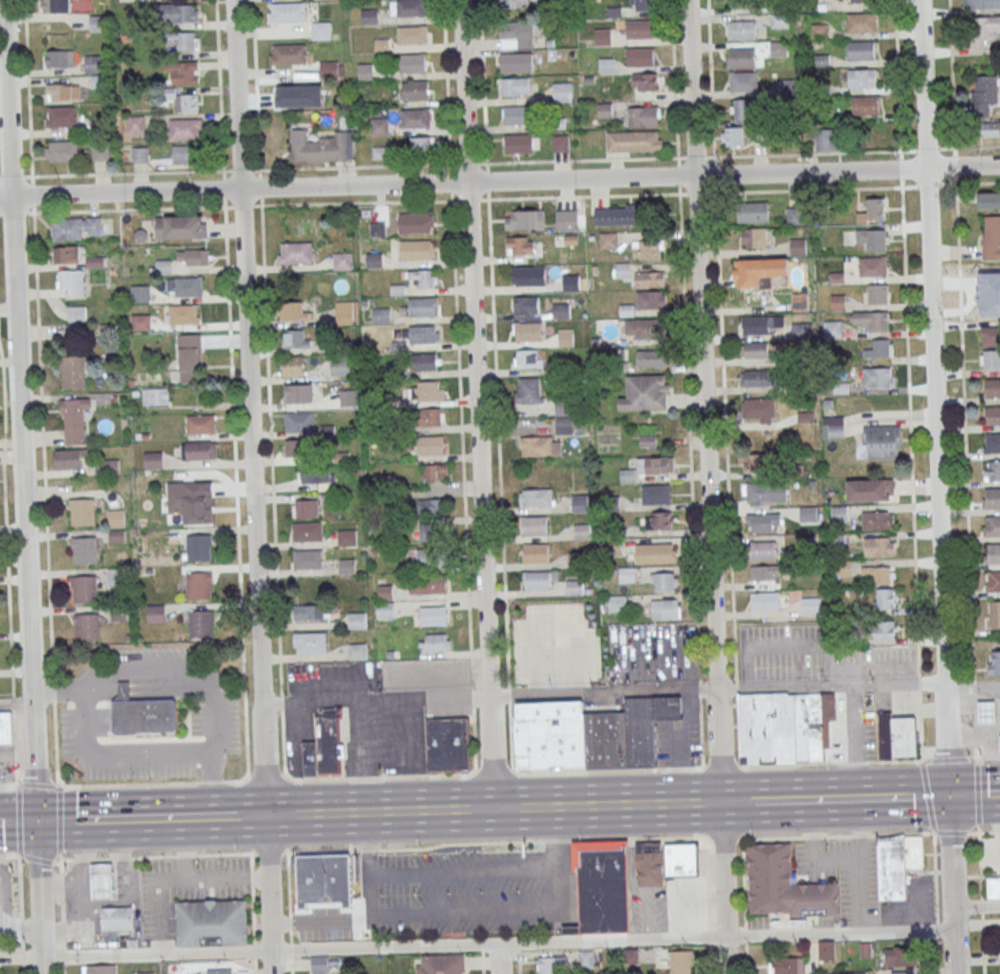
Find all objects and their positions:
building: (863, 1)
building: (513, 3)
building: (740, 3)
building: (977, 4)
building: (642, 5)
building: (55, 6)
building: (410, 8)
building: (179, 12)
building: (286, 12)
building: (861, 23)
building: (320, 30)
building: (640, 30)
building: (741, 30)
building: (984, 30)
building: (517, 34)
building: (412, 36)
building: (602, 36)
building: (183, 40)
building: (778, 48)
building: (861, 51)
building: (287, 54)
building: (641, 57)
building: (60, 58)
building: (742, 58)
building: (95, 63)
building: (517, 63)
building: (413, 64)
building: (607, 65)
building: (329, 68)
building: (183, 73)
building: (862, 79)
road: (674, 80)
building: (645, 81)
building: (743, 82)
road: (482, 84)
road: (218, 85)
building: (516, 87)
building: (791, 87)
building: (63, 91)
building: (415, 91)
building: (562, 91)
building: (279, 93)
building: (983, 94)
building: (186, 102)
building: (866, 105)
building: (746, 108)
building: (518, 115)
building: (61, 116)
building: (643, 117)
building: (416, 119)
building: (135, 124)
building: (379, 125)
building: (185, 128)
building: (990, 128)
building: (736, 135)
building: (825, 139)
building: (634, 142)
building: (560, 143)
building: (423, 145)
building: (519, 145)
building: (320, 147)
building: (61, 150)
building: (100, 151)
road: (852, 151)
building: (184, 153)
building: (139, 154)
road: (694, 156)
road: (713, 158)
road: (581, 159)
road: (467, 162)
road: (353, 166)
road: (449, 166)
road: (963, 167)
road: (239, 169)
road: (225, 170)
road: (259, 172)
road: (713, 172)
road: (222, 173)
road: (677, 174)
road: (31, 175)
road: (12, 176)
road: (486, 180)
road: (450, 181)
road: (463, 183)
road: (259, 187)
road: (850, 187)
road: (223, 188)
road: (31, 193)
road: (693, 193)
road: (583, 196)
road: (469, 199)
building: (989, 200)
road: (355, 202)
road: (242, 205)
road: (223, 206)
road: (13, 211)
road: (30, 211)
building: (753, 211)
building: (872, 211)
building: (618, 215)
building: (794, 215)
building: (524, 219)
building: (566, 220)
building: (416, 223)
building: (76, 227)
building: (180, 227)
building: (377, 229)
building: (754, 237)
building: (991, 237)
building: (872, 239)
building: (608, 240)
building: (520, 245)
building: (798, 246)
building: (646, 249)
building: (417, 250)
building: (294, 253)
building: (66, 254)
building: (193, 256)
building: (342, 260)
building: (373, 260)
building: (872, 266)
building: (750, 273)
building: (529, 276)
building: (424, 277)
building: (649, 279)
building: (71, 281)
building: (570, 282)
building: (184, 286)
building: (877, 293)
building: (140, 294)
building: (650, 299)
building: (799, 301)
building: (837, 302)
building: (527, 306)
building: (422, 307)
building: (293, 311)
building: (345, 313)
building: (77, 314)
building: (183, 314)
building: (872, 320)
building: (140, 322)
building: (755, 326)
building: (643, 328)
building: (832, 328)
building: (800, 330)
building: (528, 332)
building: (424, 335)
building: (990, 336)
building: (565, 337)
road: (906, 337)
building: (296, 338)
road: (961, 339)
building: (758, 350)
building: (189, 357)
building: (528, 358)
building: (652, 358)
building: (990, 359)
building: (424, 362)
building: (293, 365)
building: (339, 366)
building: (73, 373)
building: (752, 377)
building: (876, 377)
building: (992, 387)
building: (427, 390)
building: (528, 390)
building: (298, 393)
building: (645, 393)
building: (155, 396)
building: (349, 397)
road: (476, 403)
building: (563, 408)
road: (19, 410)
building: (759, 410)
building: (992, 415)
building: (430, 416)
building: (75, 419)
building: (299, 421)
building: (200, 424)
building: (833, 427)
road: (724, 432)
road: (687, 433)
road: (498, 439)
road: (461, 440)
road: (42, 441)
building: (882, 442)
building: (992, 442)
building: (540, 445)
road: (270, 446)
building: (430, 446)
building: (296, 447)
building: (199, 450)
building: (69, 457)
building: (152, 459)
building: (754, 462)
building: (656, 465)
building: (110, 466)
building: (992, 470)
building: (435, 471)
building: (313, 474)
road: (252, 486)
road: (706, 486)
road: (937, 487)
building: (870, 490)
building: (767, 492)
building: (655, 494)
building: (991, 498)
building: (536, 499)
road: (236, 502)
building: (579, 502)
building: (432, 506)
building: (305, 508)
building: (196, 510)
building: (83, 512)
building: (808, 513)
building: (839, 513)
building: (658, 520)
building: (878, 520)
building: (763, 522)
building: (534, 526)
building: (992, 526)
building: (307, 531)
building: (427, 531)
building: (347, 538)
building: (879, 546)
building: (200, 547)
building: (85, 550)
building: (763, 551)
building: (655, 552)
building: (992, 553)
building: (535, 554)
building: (432, 558)
building: (307, 559)
road: (6, 567)
building: (347, 567)
building: (765, 572)
building: (626, 574)
building: (879, 574)
building: (664, 581)
building: (537, 582)
building: (993, 582)
building: (427, 584)
building: (199, 586)
building: (574, 587)
building: (85, 590)
building: (385, 592)
building: (885, 597)
building: (766, 602)
building: (617, 603)
building: (811, 606)
building: (666, 608)
building: (385, 609)
building: (309, 611)
building: (156, 613)
building: (994, 614)
building: (433, 615)
road: (554, 618)
building: (357, 621)
building: (202, 624)
building: (88, 628)
building: (884, 629)
building: (311, 642)
building: (435, 642)
road: (786, 646)
building: (357, 651)
building: (994, 662)
road: (827, 664)
road: (746, 666)
road: (867, 666)
road: (180, 669)
parking lot: (423, 670)
parking lot: (330, 672)
road: (906, 673)
road: (347, 681)
road: (918, 681)
road: (973, 685)
road: (698, 687)
road: (735, 687)
road: (52, 689)
road: (630, 690)
road: (58, 691)
road: (508, 694)
road: (471, 695)
road: (281, 701)
road: (403, 711)
building: (986, 711)
building: (140, 713)
parking lot: (351, 722)
parking lot: (303, 724)
road: (919, 724)
road: (975, 726)
building: (6, 727)
building: (784, 728)
road: (510, 734)
building: (590, 734)
parking lot: (393, 738)
building: (903, 738)
road: (55, 743)
building: (448, 743)
building: (325, 745)
road: (121, 752)
road: (983, 756)
road: (946, 758)
road: (900, 760)
road: (854, 762)
road: (474, 765)
road: (749, 765)
parking lot: (353, 766)
road: (723, 766)
road: (641, 768)
road: (513, 770)
road: (471, 771)
road: (492, 772)
road: (286, 773)
road: (286, 774)
road: (407, 775)
road: (245, 776)
road: (386, 776)
road: (266, 777)
road: (363, 777)
road: (17, 781)
road: (211, 782)
road: (212, 783)
road: (8, 784)
road: (37, 784)
road: (127, 784)
road: (975, 793)
traffic signals: (949, 795)
road: (974, 795)
road: (927, 796)
road: (844, 798)
road: (729, 802)
road: (492, 807)
road: (255, 815)
road: (181, 818)
road: (17, 820)
road: (58, 820)
road: (77, 820)
road: (18, 821)
traffic signals: (37, 821)
road: (984, 831)
road: (950, 832)
road: (899, 833)
road: (836, 835)
road: (859, 835)
road: (812, 836)
road: (813, 837)
road: (771, 838)
road: (722, 840)
road: (537, 841)
road: (705, 842)
parking lot: (839, 849)
road: (185, 850)
road: (268, 852)
road: (223, 853)
road: (185, 854)
road: (9, 856)
road: (152, 856)
road: (37, 857)
road: (60, 857)
road: (101, 858)
road: (119, 858)
parking lot: (804, 858)
road: (64, 859)
road: (84, 859)
road: (557, 859)
road: (836, 859)
building: (682, 860)
road: (978, 861)
road: (366, 863)
building: (897, 863)
building: (649, 864)
road: (860, 866)
road: (462, 873)
road: (934, 877)
building: (324, 878)
building: (103, 879)
road: (122, 880)
road: (214, 880)
road: (742, 883)
parking lot: (859, 884)
building: (602, 885)
building: (785, 885)
road: (60, 886)
building: (993, 886)
parking lot: (186, 890)
building: (0, 892)
road: (82, 892)
parking lot: (469, 892)
road: (39, 897)
road: (664, 898)
parking lot: (916, 902)
gas station: (101, 903)
road: (912, 904)
road: (980, 905)
gas station: (8, 906)
parking lot: (685, 906)
road: (976, 906)
road: (461, 911)
road: (253, 913)
road: (289, 913)
road: (21, 914)
road: (64, 916)
building: (118, 917)
road: (162, 917)
building: (211, 922)
road: (308, 923)
road: (936, 930)
road: (709, 936)
road: (744, 936)
road: (982, 943)
road: (497, 945)
building: (826, 949)
building: (630, 955)
building: (895, 956)
road: (937, 956)
road: (710, 958)
road: (482, 959)
road: (498, 959)
road: (519, 959)
building: (586, 959)
road: (744, 959)
building: (682, 962)
building: (440, 964)
building: (551, 965)
building: (786, 965)
building: (99, 969)
building: (145, 973)
building: (901, 973)

